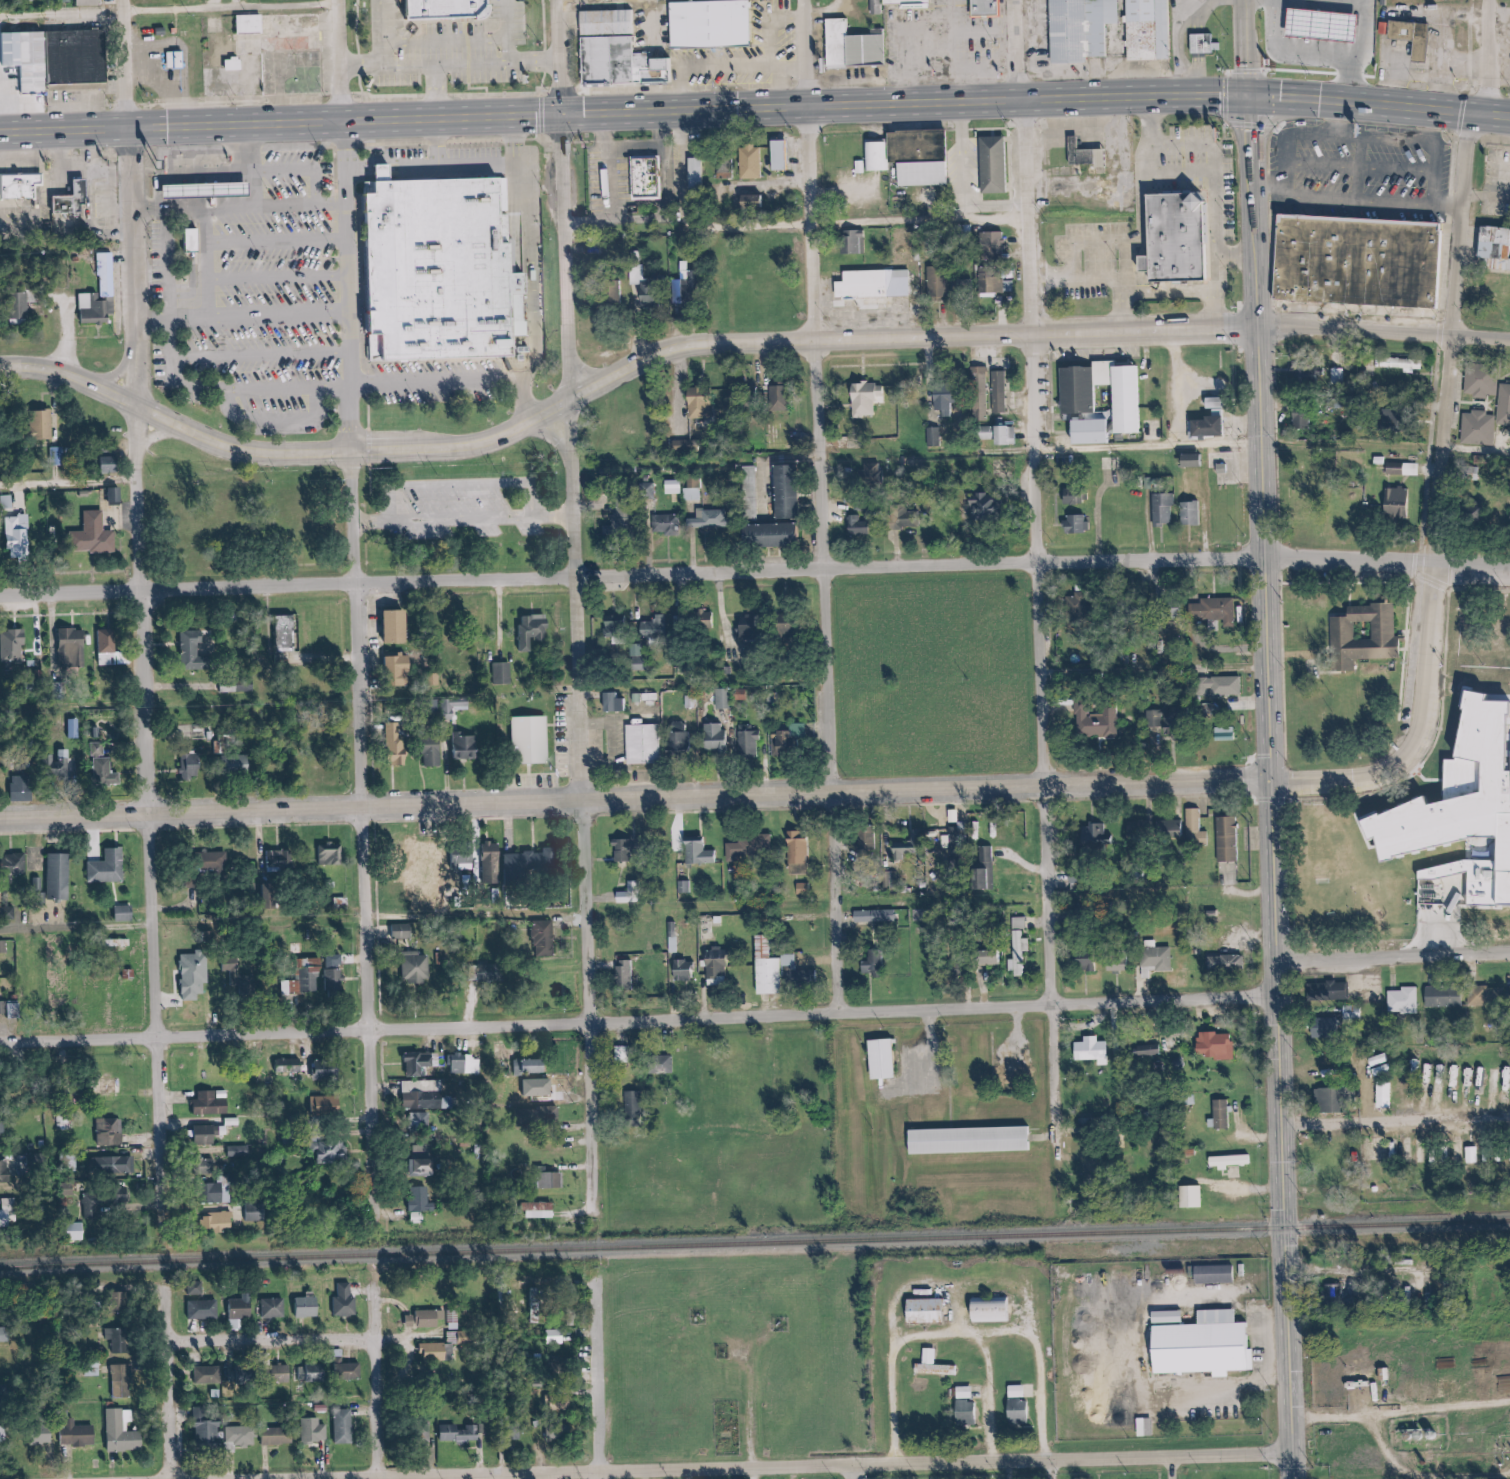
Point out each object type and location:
building: (39, 0)
building: (918, 1)
building: (97, 2)
road: (346, 3)
road: (224, 4)
road: (247, 4)
building: (887, 7)
building: (996, 7)
building: (453, 9)
road: (173, 10)
road: (1210, 14)
road: (963, 16)
road: (1014, 17)
road: (796, 20)
road: (937, 21)
building: (619, 22)
building: (258, 23)
road: (665, 23)
building: (722, 23)
road: (1210, 23)
road: (368, 27)
building: (1091, 29)
building: (1158, 29)
road: (522, 30)
building: (170, 31)
building: (1423, 33)
road: (996, 34)
building: (1409, 38)
road: (449, 39)
road: (1203, 43)
building: (1206, 43)
road: (1209, 43)
road: (1253, 46)
road: (1480, 48)
building: (853, 49)
road: (1015, 49)
road: (388, 51)
road: (1192, 53)
road: (1490, 56)
building: (34, 57)
building: (86, 57)
road: (194, 57)
road: (554, 57)
road: (911, 60)
building: (184, 61)
building: (242, 62)
road: (507, 62)
building: (1162, 62)
road: (444, 63)
road: (349, 64)
road: (991, 65)
road: (1022, 65)
road: (966, 66)
road: (758, 68)
road: (797, 68)
road: (1203, 73)
road: (1209, 73)
road: (688, 88)
traffic signals: (1255, 92)
road: (744, 104)
traffic signals: (571, 111)
road: (1499, 114)
road: (1471, 115)
road: (1371, 136)
road: (263, 148)
road: (647, 150)
building: (790, 151)
building: (888, 152)
building: (1090, 152)
building: (779, 155)
road: (1226, 158)
building: (761, 161)
building: (1003, 162)
building: (749, 163)
parking lot: (1369, 163)
road: (616, 165)
road: (388, 166)
road: (1370, 168)
road: (1369, 169)
road: (388, 171)
road: (292, 172)
road: (198, 174)
building: (657, 175)
building: (694, 183)
building: (22, 184)
road: (775, 185)
building: (214, 188)
gas station: (214, 188)
road: (183, 190)
road: (199, 190)
road: (247, 192)
road: (232, 193)
road: (46, 194)
road: (214, 194)
building: (761, 198)
building: (75, 200)
road: (95, 200)
road: (1366, 201)
building: (749, 202)
road: (140, 203)
road: (284, 208)
road: (675, 210)
road: (1153, 222)
road: (807, 224)
road: (1457, 227)
building: (1189, 235)
building: (196, 239)
road: (1093, 241)
road: (287, 242)
building: (851, 243)
building: (991, 245)
building: (1493, 247)
road: (1227, 251)
road: (201, 255)
road: (1245, 256)
road: (1283, 257)
building: (1369, 259)
road: (219, 264)
building: (449, 267)
building: (108, 274)
building: (636, 276)
road: (288, 279)
building: (1005, 280)
road: (1038, 280)
building: (949, 282)
road: (180, 283)
building: (936, 283)
road: (357, 287)
building: (883, 287)
road: (1086, 288)
road: (1192, 288)
building: (961, 289)
building: (1507, 290)
building: (689, 293)
road: (546, 305)
building: (94, 310)
road: (289, 314)
road: (1283, 315)
road: (1388, 332)
road: (1446, 332)
road: (1284, 338)
building: (1399, 364)
road: (183, 371)
road: (617, 372)
road: (127, 373)
building: (1302, 380)
building: (1479, 382)
road: (687, 387)
building: (1089, 391)
building: (997, 392)
building: (978, 394)
building: (749, 395)
building: (876, 395)
building: (790, 397)
building: (942, 397)
building: (1137, 397)
building: (778, 398)
building: (710, 399)
building: (863, 399)
road: (582, 400)
building: (1226, 400)
building: (695, 404)
building: (1503, 406)
building: (1299, 419)
road: (288, 421)
building: (47, 423)
building: (1216, 426)
building: (1476, 430)
building: (1101, 433)
building: (786, 434)
building: (774, 435)
building: (993, 436)
road: (1450, 440)
road: (849, 443)
road: (1287, 444)
road: (1436, 446)
road: (1156, 447)
building: (682, 449)
building: (113, 461)
building: (1189, 461)
building: (1152, 463)
building: (1393, 467)
building: (869, 475)
road: (73, 483)
road: (474, 484)
building: (691, 487)
building: (783, 492)
building: (748, 493)
building: (116, 494)
building: (1071, 497)
building: (1406, 503)
parking lot: (474, 506)
road: (831, 506)
building: (1392, 506)
building: (981, 508)
building: (1161, 510)
building: (1470, 513)
building: (1189, 514)
road: (474, 520)
building: (701, 520)
building: (1074, 525)
building: (666, 526)
building: (857, 526)
building: (102, 534)
building: (18, 535)
parking lot: (396, 535)
building: (766, 537)
road: (1273, 545)
road: (1291, 560)
road: (1423, 566)
road: (754, 570)
road: (1460, 570)
road: (1359, 583)
road: (1347, 584)
road: (1439, 589)
road: (1484, 593)
road: (1352, 606)
building: (1076, 608)
building: (1210, 612)
road: (275, 615)
building: (403, 624)
building: (700, 625)
building: (535, 630)
building: (650, 630)
building: (782, 630)
building: (744, 631)
building: (296, 632)
building: (1400, 637)
road: (280, 639)
building: (15, 644)
building: (197, 644)
building: (72, 645)
building: (114, 648)
road: (1456, 650)
road: (1414, 653)
road: (337, 658)
road: (310, 661)
building: (1453, 665)
building: (403, 669)
road: (1338, 672)
park: (942, 676)
road: (1292, 681)
building: (1217, 687)
building: (722, 699)
building: (457, 704)
road: (1452, 718)
building: (1166, 721)
building: (1098, 724)
building: (531, 739)
building: (713, 739)
building: (746, 741)
building: (785, 741)
building: (641, 744)
building: (677, 746)
building: (466, 747)
building: (98, 749)
building: (436, 753)
building: (246, 763)
building: (195, 766)
building: (106, 771)
road: (1344, 779)
road: (1416, 780)
road: (640, 799)
road: (1279, 800)
road: (1438, 813)
road: (149, 819)
building: (1165, 826)
building: (1204, 827)
road: (372, 828)
building: (1193, 831)
building: (1137, 832)
building: (1092, 835)
building: (1236, 836)
building: (1225, 840)
building: (953, 841)
park: (1398, 845)
building: (747, 848)
building: (796, 849)
building: (626, 851)
building: (696, 853)
building: (332, 854)
building: (283, 856)
building: (221, 860)
building: (531, 860)
building: (15, 864)
building: (110, 867)
building: (495, 867)
road: (1056, 870)
building: (990, 875)
building: (60, 876)
building: (889, 883)
road: (1250, 891)
building: (127, 914)
building: (884, 915)
building: (708, 926)
building: (407, 931)
road: (1257, 937)
building: (1016, 944)
building: (996, 954)
road: (1396, 955)
building: (1166, 956)
building: (985, 957)
building: (1115, 961)
building: (1236, 961)
building: (1127, 962)
building: (883, 963)
building: (1083, 963)
building: (329, 964)
building: (418, 965)
building: (870, 965)
building: (491, 968)
building: (714, 968)
building: (763, 969)
building: (682, 972)
building: (196, 975)
building: (795, 976)
road: (1149, 986)
road: (1127, 989)
building: (1338, 989)
building: (1509, 995)
building: (1439, 998)
building: (1485, 998)
building: (1400, 1002)
road: (590, 1007)
building: (1350, 1014)
road: (641, 1021)
building: (1231, 1022)
building: (1336, 1025)
building: (1322, 1029)
building: (1226, 1042)
building: (1102, 1047)
building: (1212, 1047)
building: (1160, 1048)
building: (1144, 1051)
building: (634, 1053)
building: (893, 1057)
building: (878, 1060)
building: (1377, 1060)
building: (672, 1064)
building: (659, 1065)
road: (940, 1075)
building: (1472, 1082)
building: (1382, 1097)
building: (1341, 1098)
building: (644, 1101)
building: (632, 1104)
building: (206, 1105)
building: (319, 1107)
building: (1232, 1113)
building: (536, 1115)
building: (1218, 1115)
road: (1398, 1119)
building: (416, 1123)
building: (1098, 1125)
building: (105, 1132)
road: (1051, 1135)
building: (203, 1136)
building: (979, 1138)
road: (1248, 1138)
building: (324, 1153)
road: (1084, 1155)
building: (1469, 1156)
building: (1240, 1159)
building: (415, 1162)
building: (104, 1165)
building: (1328, 1165)
building: (201, 1169)
building: (1086, 1171)
building: (3, 1172)
building: (1100, 1174)
road: (1232, 1177)
road: (1243, 1179)
building: (546, 1181)
road: (1257, 1188)
building: (211, 1194)
building: (1202, 1195)
building: (1190, 1197)
building: (415, 1203)
building: (7, 1205)
building: (215, 1223)
road: (1286, 1238)
railway: (754, 1243)
building: (1208, 1273)
road: (906, 1286)
building: (193, 1289)
building: (1335, 1296)
building: (502, 1297)
road: (1023, 1299)
building: (342, 1301)
flagpole: (1248, 1303)
building: (303, 1308)
building: (236, 1309)
building: (270, 1309)
building: (919, 1309)
building: (201, 1310)
building: (984, 1312)
building: (423, 1320)
building: (1, 1332)
road: (961, 1335)
building: (116, 1339)
road: (275, 1341)
building: (439, 1344)
building: (1197, 1345)
building: (570, 1364)
building: (931, 1366)
building: (88, 1367)
building: (344, 1372)
building: (308, 1374)
building: (203, 1376)
building: (233, 1376)
road: (590, 1380)
building: (1479, 1387)
building: (1445, 1390)
road: (577, 1392)
building: (1, 1393)
road: (982, 1394)
building: (550, 1400)
road: (172, 1410)
road: (378, 1410)
road: (743, 1410)
building: (1012, 1410)
building: (960, 1412)
road: (1397, 1413)
building: (1468, 1424)
building: (1138, 1426)
building: (339, 1427)
building: (498, 1430)
building: (415, 1431)
building: (451, 1432)
building: (201, 1433)
building: (549, 1433)
building: (72, 1434)
building: (116, 1434)
building: (34, 1436)
building: (308, 1436)
building: (237, 1437)
building: (272, 1437)
building: (507, 1437)
road: (472, 1455)
road: (533, 1459)
road: (495, 1463)
road: (831, 1466)
road: (1165, 1469)
road: (1002, 1470)
road: (1043, 1470)
road: (745, 1472)
road: (789, 1472)
road: (848, 1472)
road: (680, 1473)
road: (637, 1474)
road: (1420, 1477)

